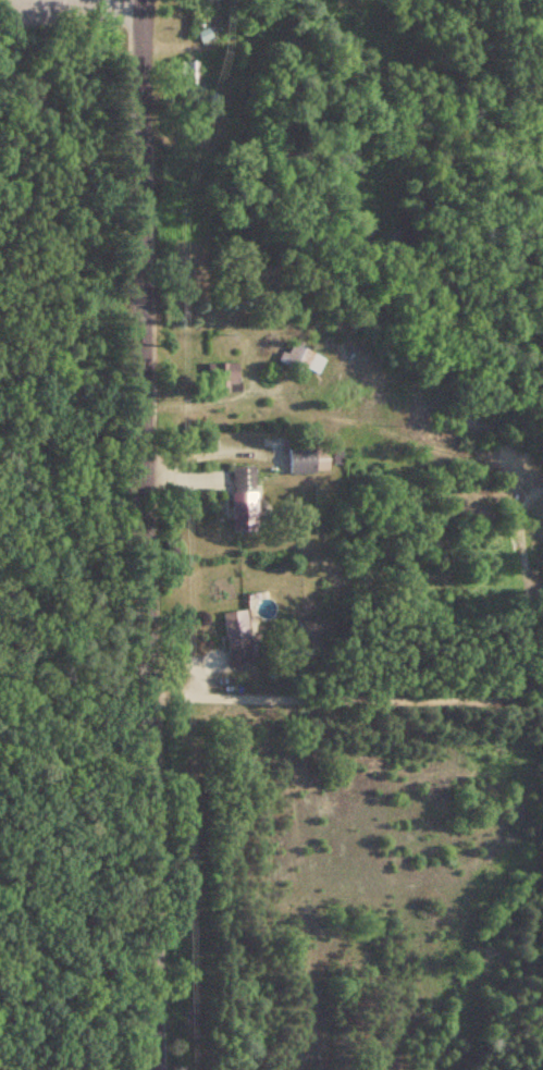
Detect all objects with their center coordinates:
road: (119, 8)
building: (186, 76)
building: (297, 358)
building: (218, 377)
building: (303, 455)
building: (239, 497)
road: (145, 534)
road: (520, 566)
building: (235, 638)

